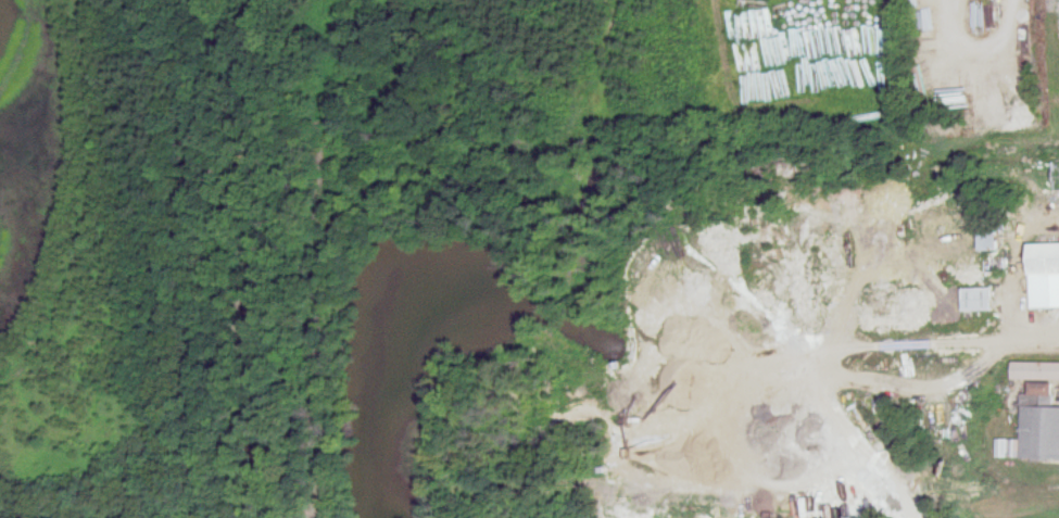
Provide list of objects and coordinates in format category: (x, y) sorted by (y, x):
building: (994, 252)
building: (1043, 276)
building: (978, 300)
building: (1034, 371)
building: (1034, 428)

